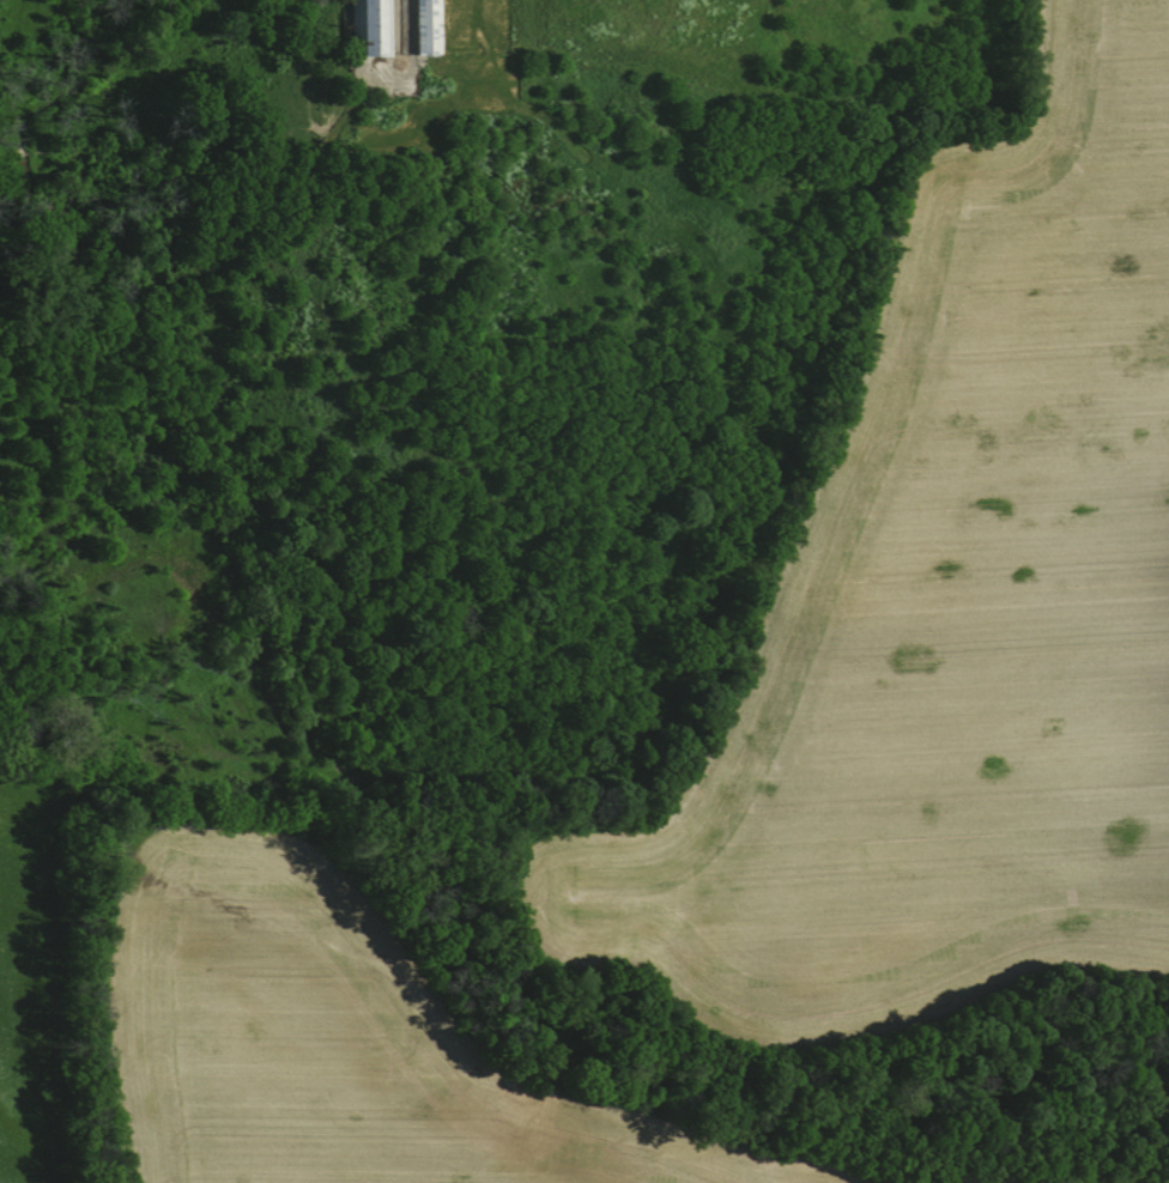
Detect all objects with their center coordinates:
building: (367, 26)
building: (423, 26)

